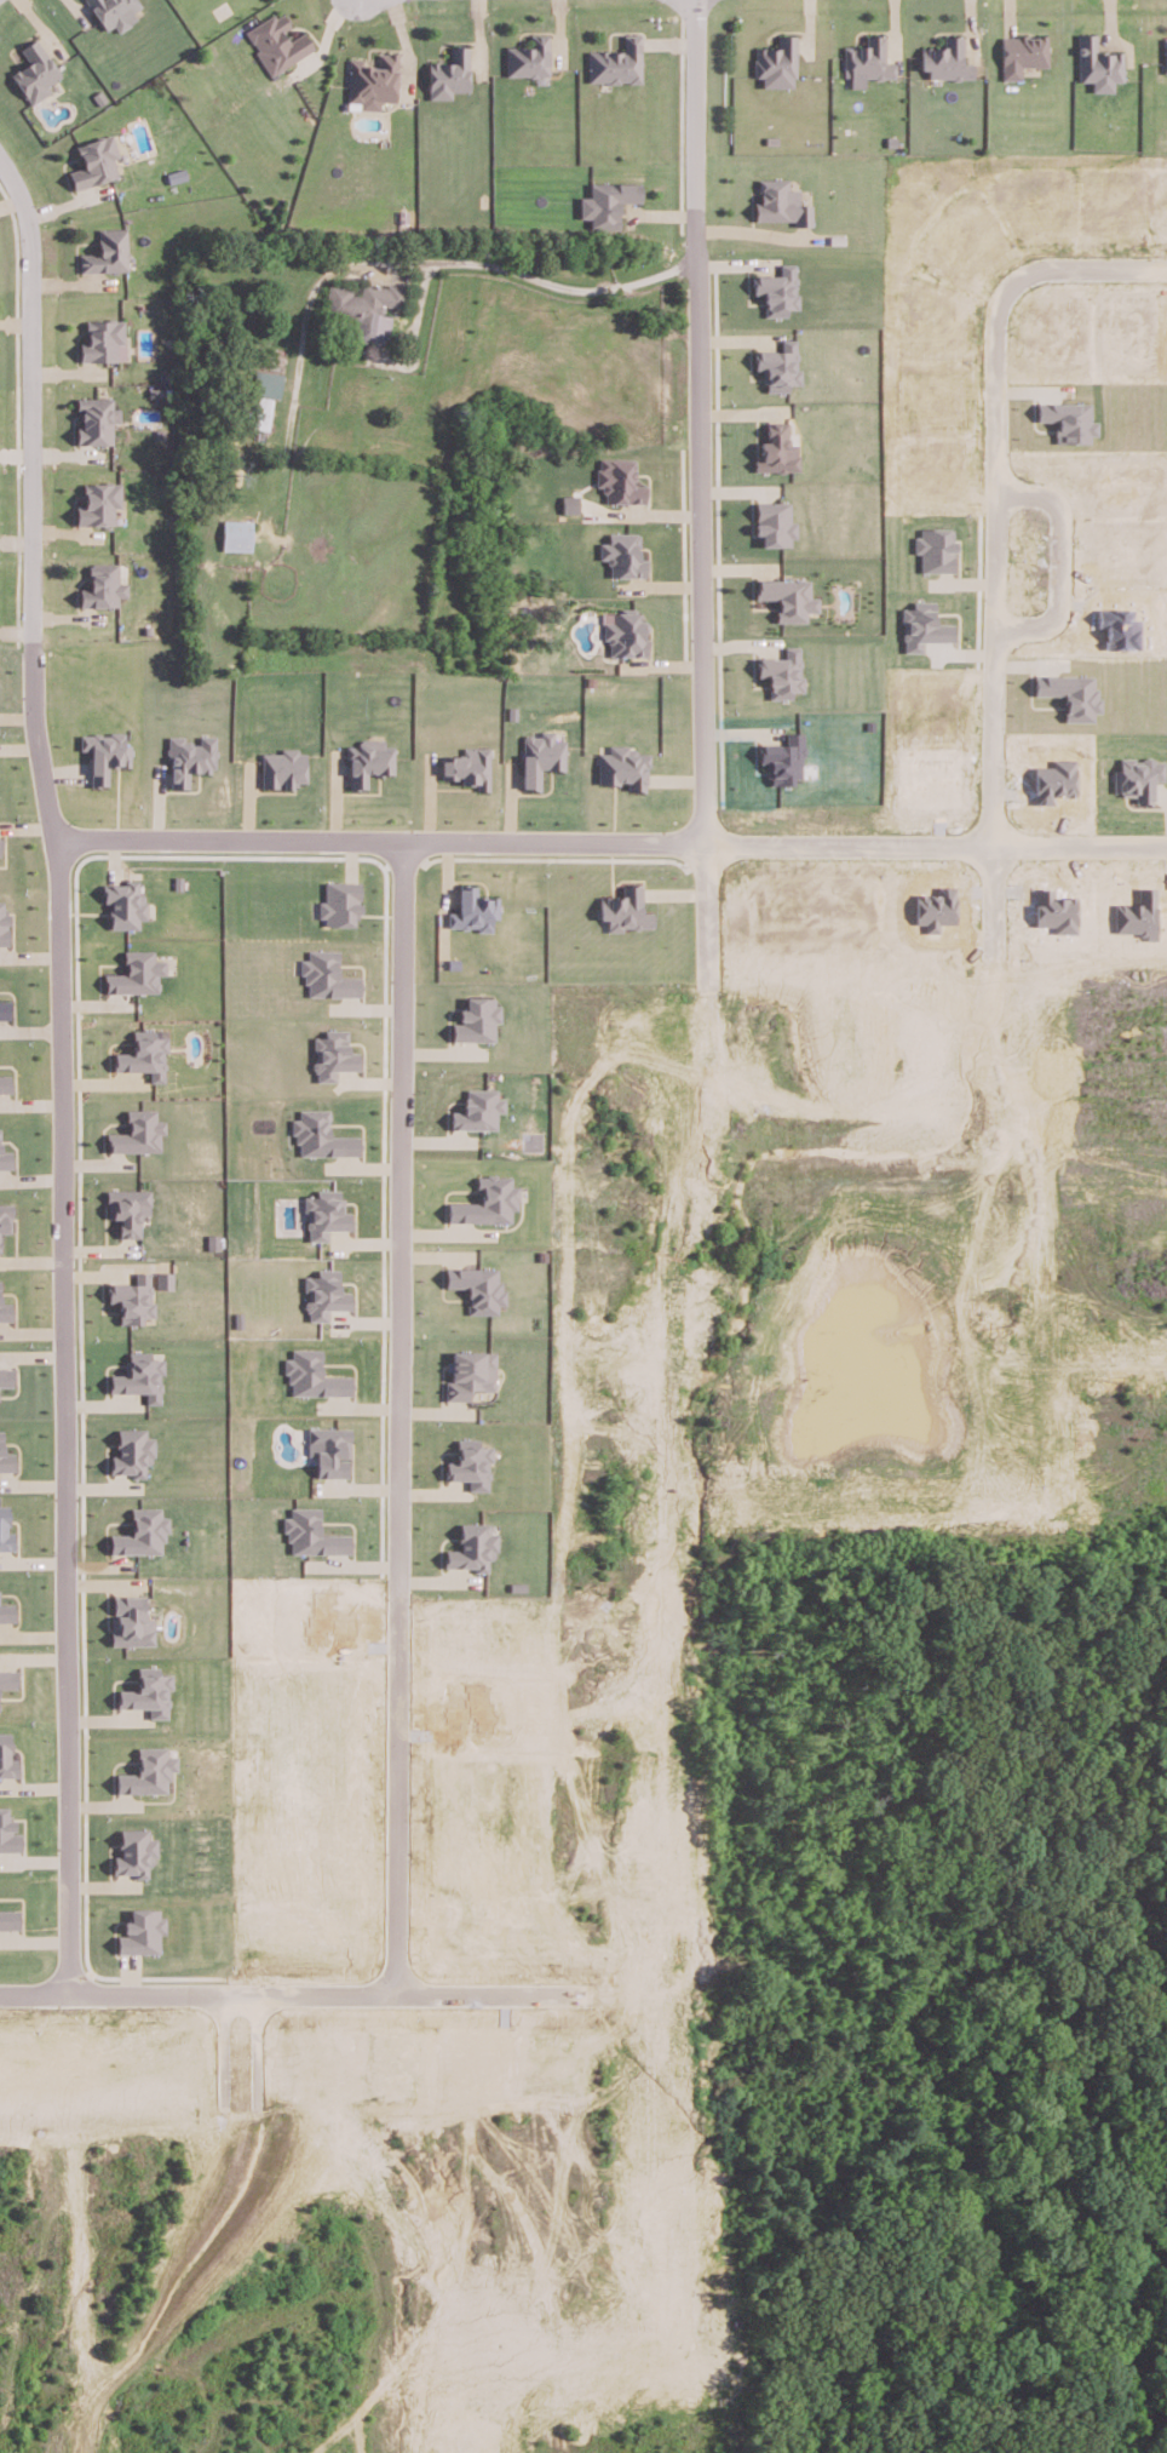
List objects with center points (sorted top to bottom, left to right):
building: (114, 12)
building: (276, 42)
building: (1021, 53)
building: (1165, 55)
building: (528, 57)
building: (944, 59)
building: (866, 61)
building: (616, 62)
building: (776, 62)
building: (1097, 64)
building: (34, 71)
building: (449, 73)
building: (372, 80)
building: (94, 161)
building: (607, 202)
building: (780, 202)
building: (107, 252)
road: (533, 276)
building: (777, 290)
building: (364, 308)
road: (304, 314)
building: (103, 340)
building: (777, 366)
building: (266, 383)
building: (261, 412)
building: (96, 419)
building: (1067, 419)
building: (776, 449)
building: (620, 480)
road: (996, 481)
building: (98, 503)
building: (570, 503)
road: (700, 504)
building: (772, 523)
building: (236, 534)
building: (933, 548)
building: (623, 554)
road: (1059, 560)
building: (102, 585)
building: (787, 597)
building: (920, 626)
building: (625, 632)
building: (781, 672)
building: (1073, 693)
building: (105, 753)
building: (541, 756)
building: (191, 758)
building: (781, 758)
building: (369, 761)
building: (470, 767)
building: (623, 767)
building: (283, 768)
building: (1142, 776)
building: (1056, 780)
road: (380, 836)
road: (935, 844)
building: (0, 847)
building: (126, 902)
building: (340, 902)
building: (626, 909)
building: (475, 910)
building: (1054, 910)
building: (1137, 913)
building: (4, 925)
building: (138, 973)
building: (328, 975)
building: (5, 1008)
building: (476, 1019)
building: (146, 1053)
building: (334, 1054)
building: (5, 1083)
building: (477, 1110)
road: (63, 1129)
building: (139, 1131)
building: (322, 1135)
building: (5, 1158)
building: (488, 1200)
building: (128, 1208)
building: (327, 1214)
building: (6, 1217)
road: (402, 1242)
building: (0, 1248)
building: (166, 1279)
building: (477, 1286)
building: (326, 1294)
building: (134, 1297)
building: (5, 1309)
building: (470, 1372)
building: (314, 1375)
building: (6, 1376)
building: (140, 1376)
building: (330, 1450)
building: (132, 1451)
building: (6, 1457)
building: (471, 1463)
building: (6, 1530)
building: (143, 1532)
building: (314, 1534)
building: (473, 1547)
building: (7, 1611)
building: (131, 1620)
building: (8, 1678)
building: (149, 1692)
building: (6, 1756)
building: (149, 1771)
building: (7, 1833)
building: (136, 1852)
road: (401, 1907)
building: (8, 1919)
building: (142, 1931)
road: (111, 1990)
road: (489, 1993)

